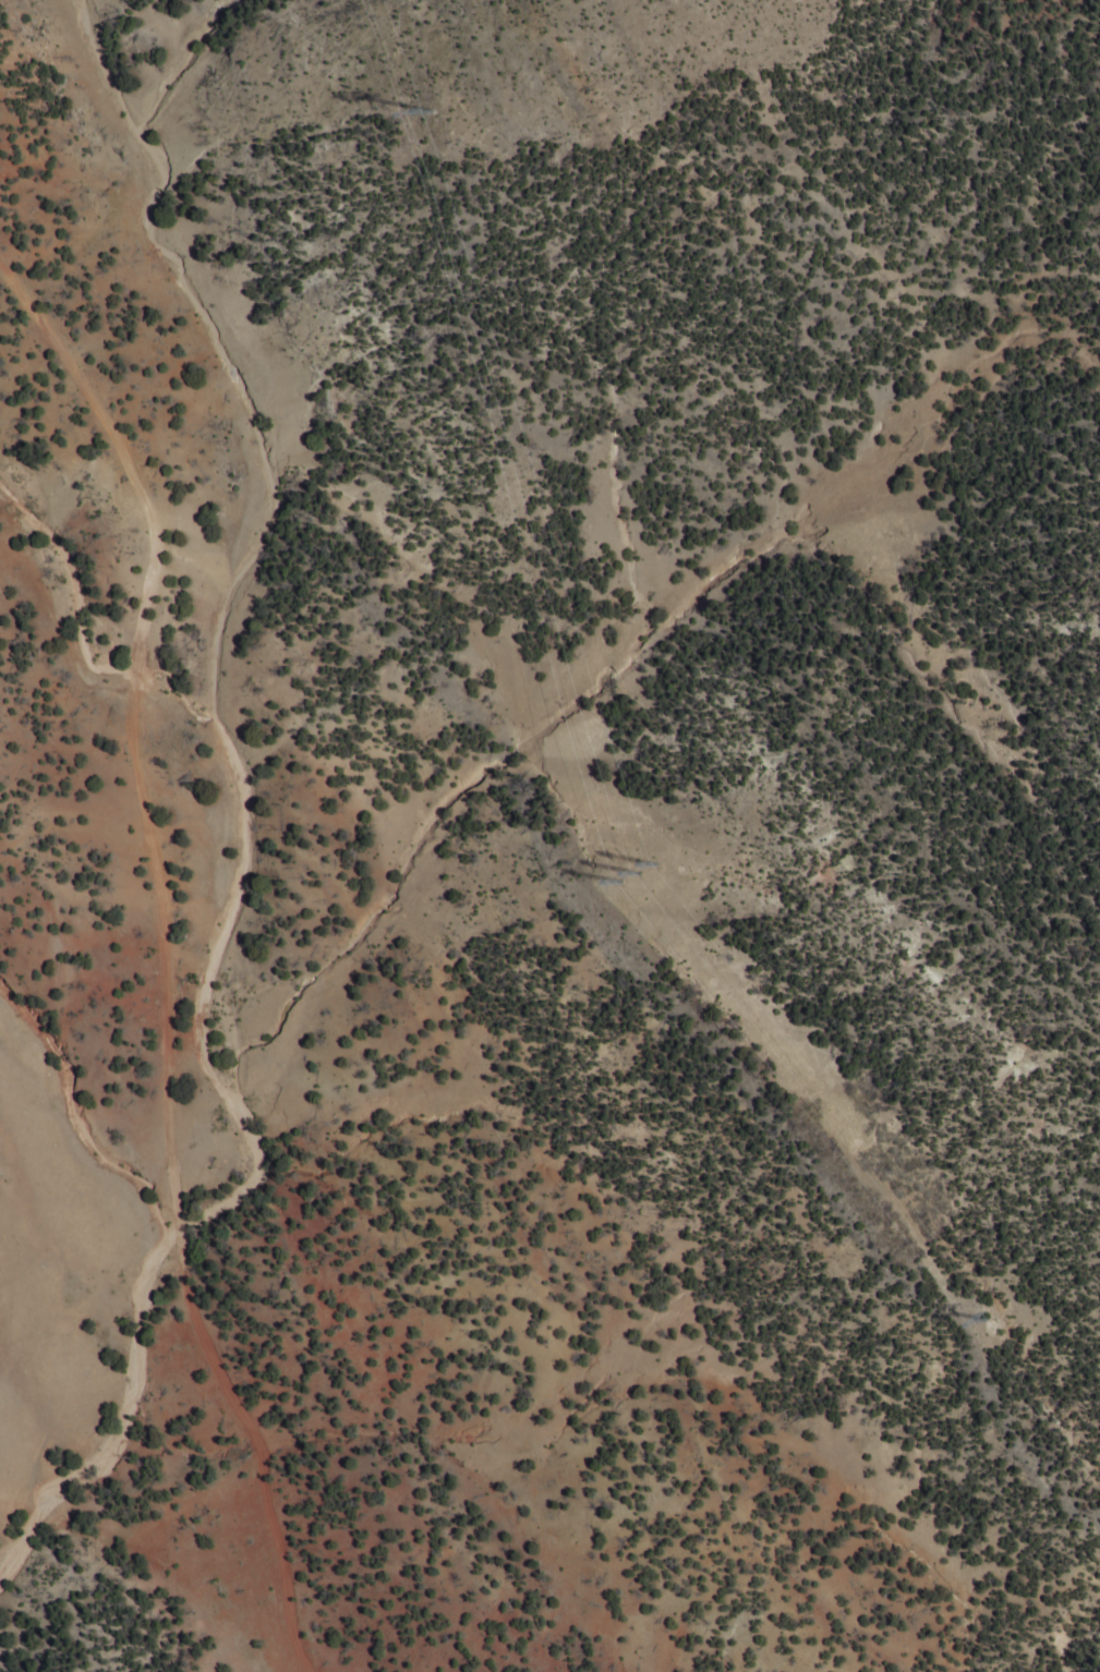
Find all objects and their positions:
power tower: (430, 109)
power tower: (652, 862)
power tower: (632, 870)
power tower: (616, 879)
road: (162, 959)
power tower: (982, 1316)

